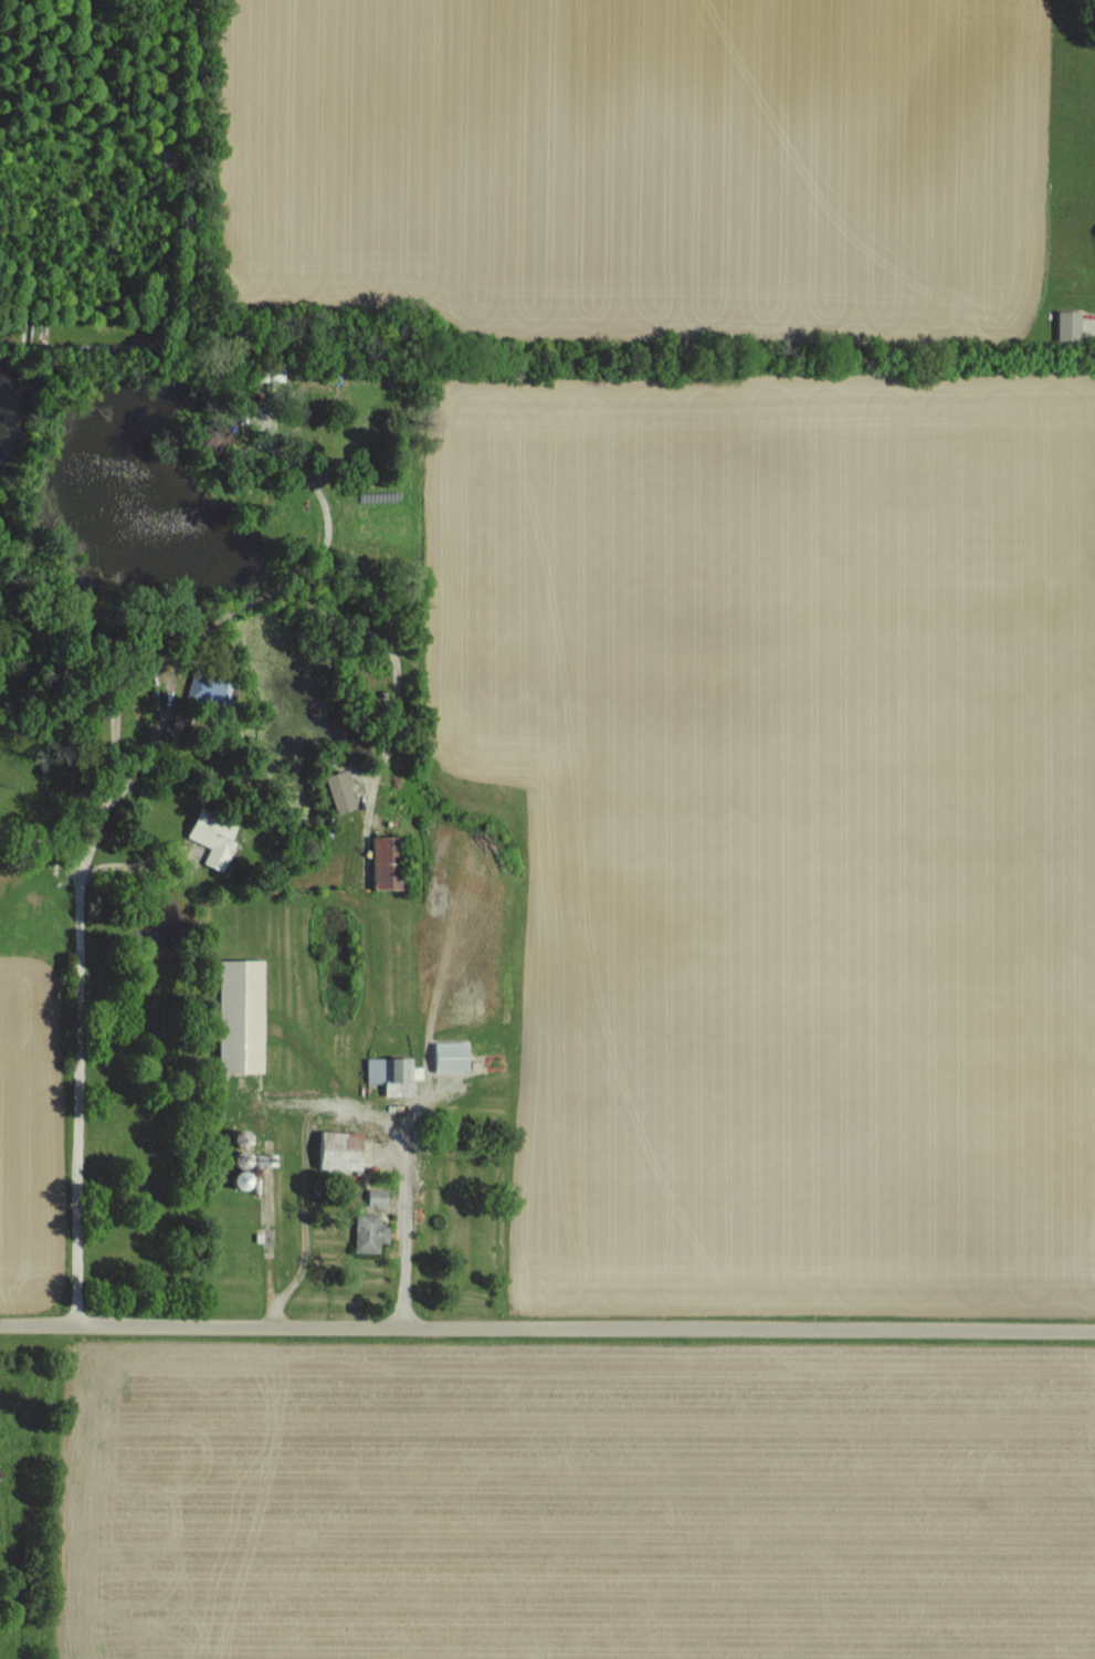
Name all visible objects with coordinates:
building: (1065, 323)
road: (129, 461)
road: (44, 516)
building: (204, 687)
road: (112, 759)
building: (335, 790)
road: (43, 838)
building: (209, 838)
building: (379, 863)
building: (234, 1015)
building: (448, 1056)
building: (390, 1073)
road: (326, 1102)
building: (333, 1148)
building: (373, 1196)
building: (366, 1231)
road: (547, 1333)

